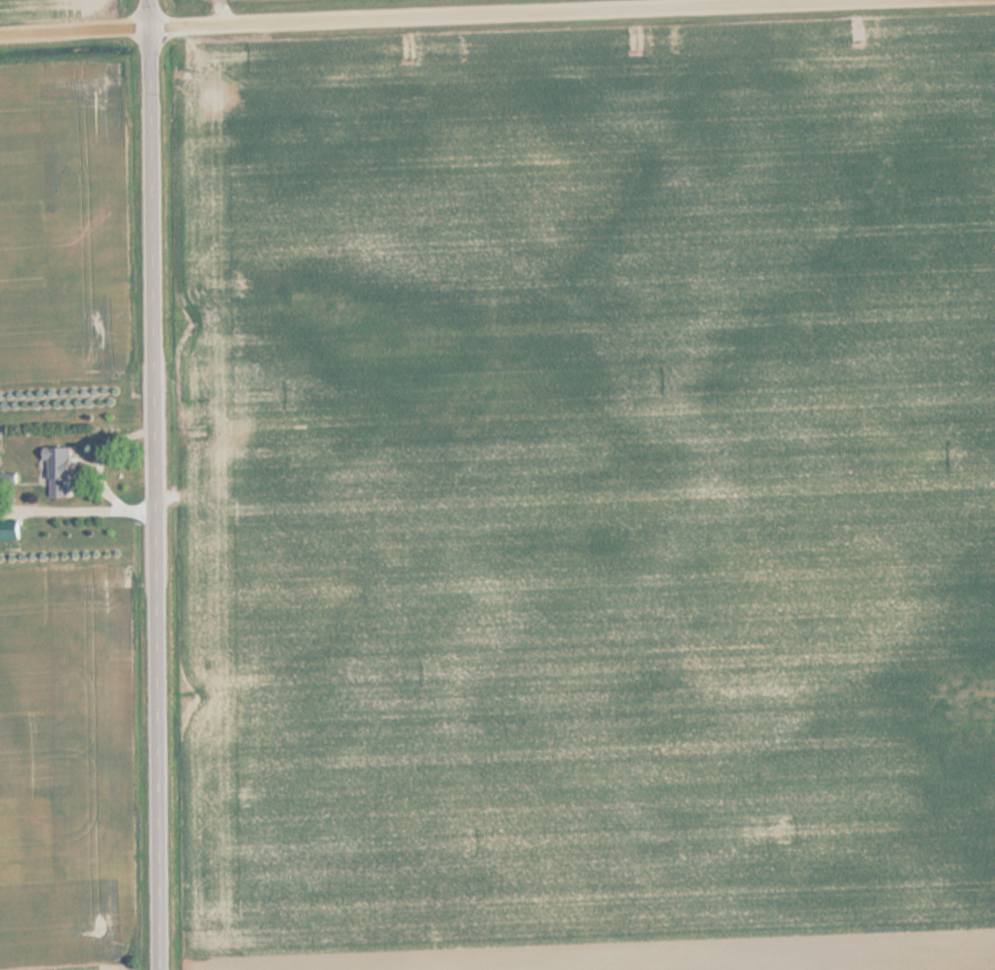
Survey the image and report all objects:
road: (392, 14)
building: (64, 470)
road: (158, 484)
building: (10, 531)

